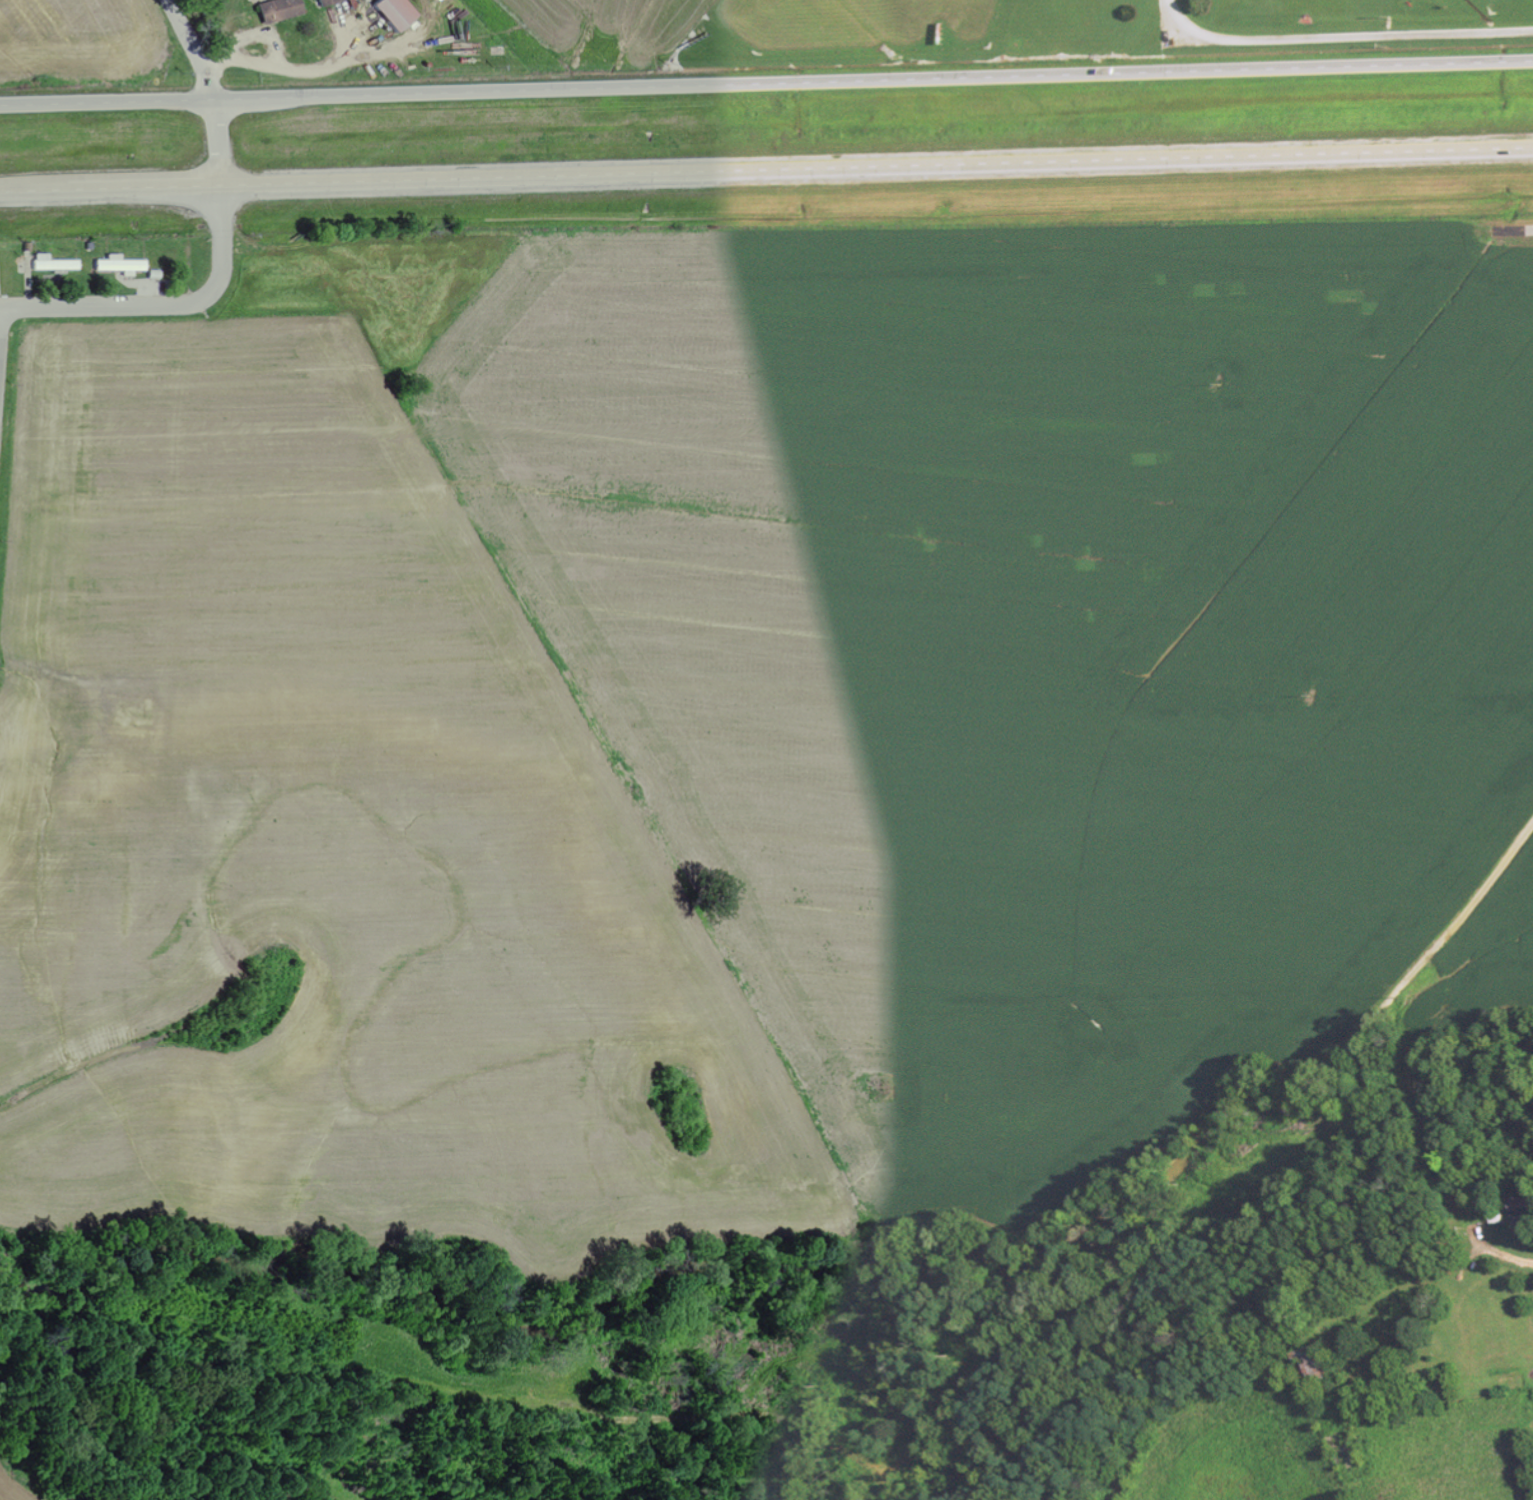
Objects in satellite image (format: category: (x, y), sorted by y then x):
building: (329, 1)
building: (279, 10)
building: (394, 12)
road: (1174, 35)
road: (198, 48)
road: (766, 81)
road: (222, 142)
road: (766, 173)
road: (1519, 232)
building: (53, 263)
building: (119, 265)
road: (161, 309)
road: (6, 389)
road: (0, 458)
road: (1440, 973)
road: (1446, 1121)
building: (1524, 1213)
road: (1406, 1292)

